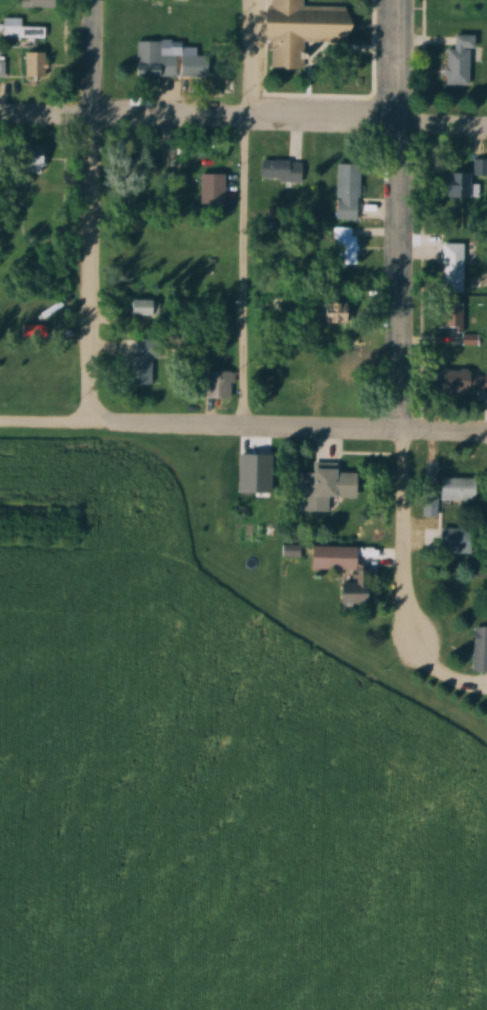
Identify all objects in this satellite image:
building: (179, 1)
building: (460, 8)
building: (21, 30)
building: (305, 31)
building: (166, 63)
building: (458, 63)
building: (36, 65)
road: (243, 121)
building: (40, 160)
building: (480, 167)
building: (281, 170)
building: (455, 186)
building: (212, 188)
building: (346, 192)
road: (86, 212)
road: (243, 215)
building: (344, 246)
building: (453, 262)
building: (147, 308)
building: (31, 313)
building: (326, 314)
road: (395, 319)
building: (457, 326)
building: (145, 362)
building: (462, 383)
building: (219, 386)
road: (243, 430)
building: (253, 476)
building: (317, 490)
building: (446, 490)
building: (453, 541)
building: (288, 551)
building: (327, 559)
building: (346, 600)
building: (478, 650)
building: (481, 686)

